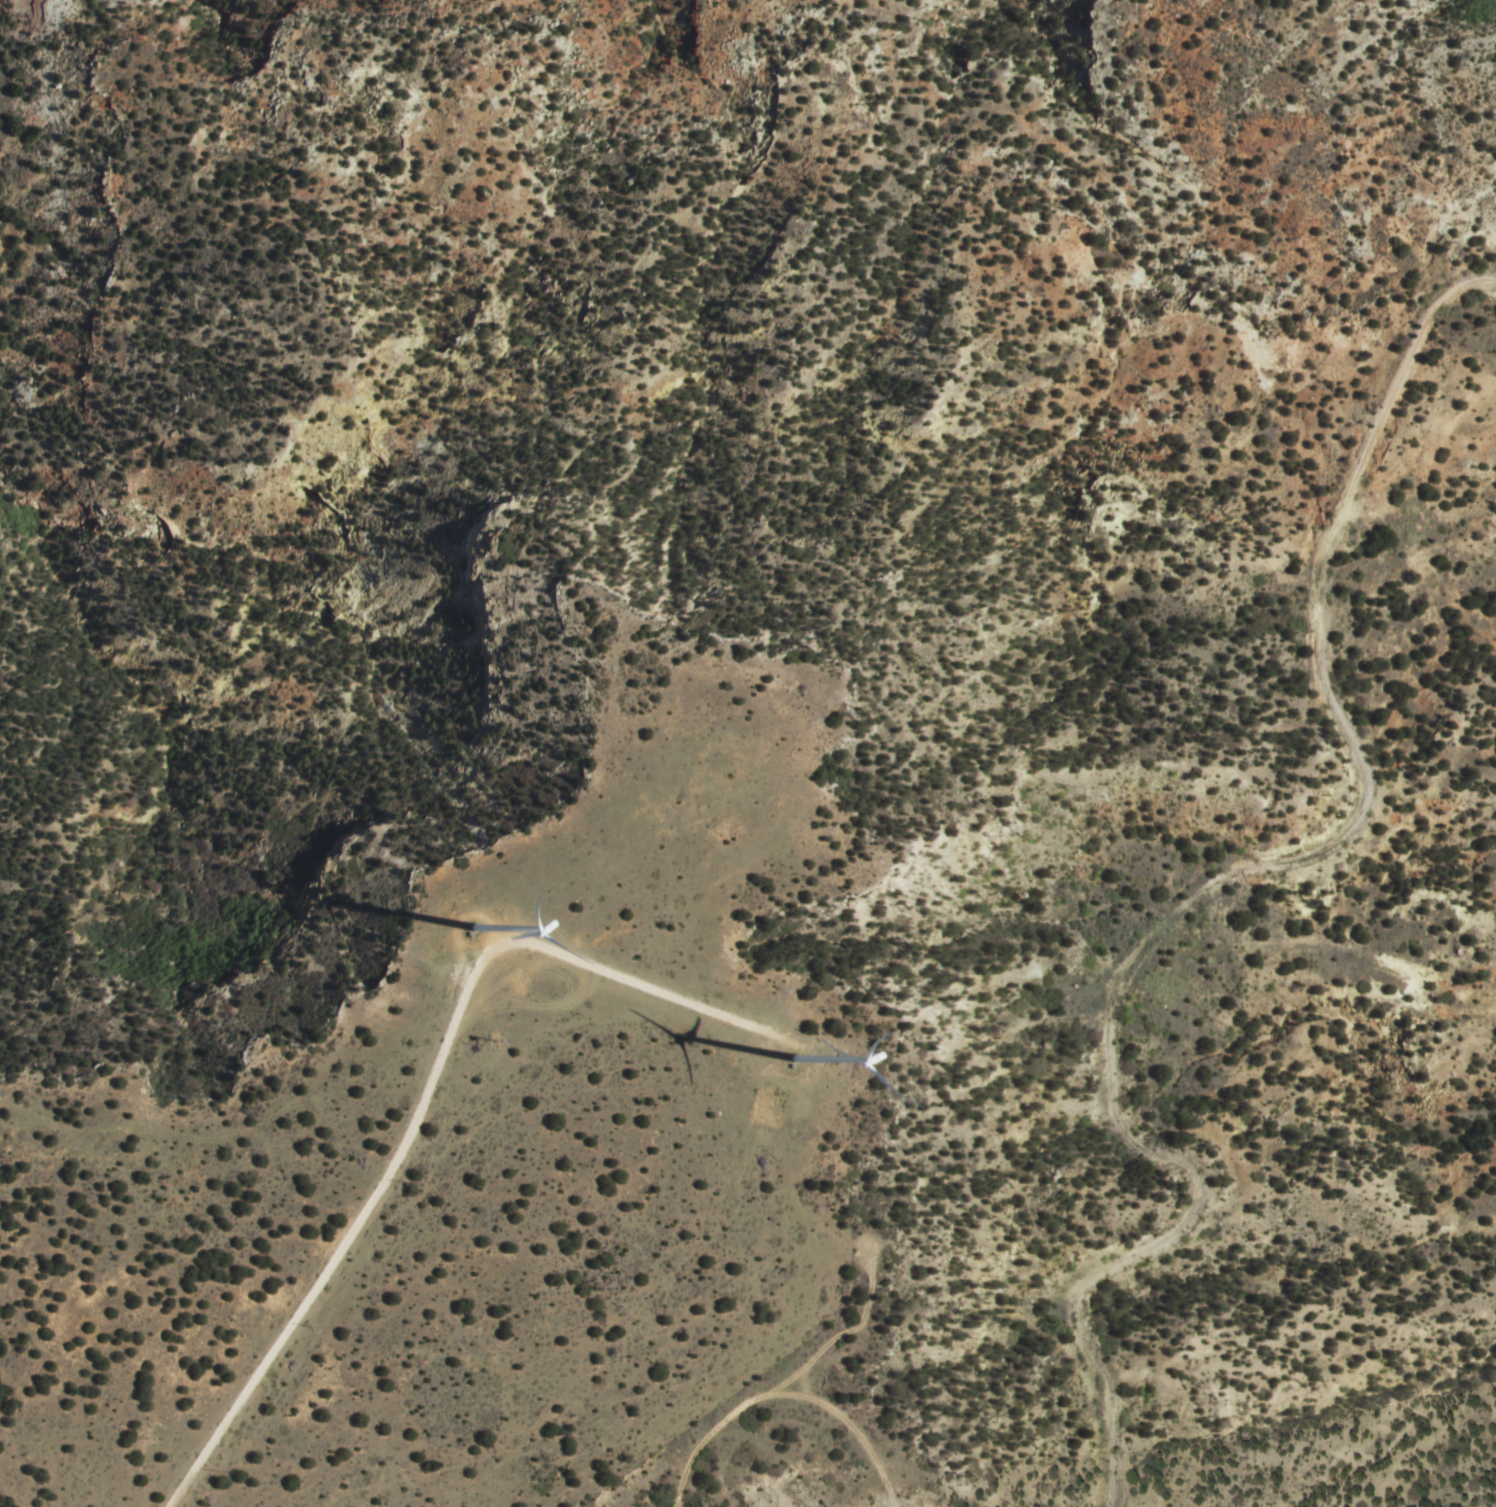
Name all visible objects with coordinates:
road: (1215, 886)
wind turbine: (476, 929)
wind turbine: (797, 1062)
road: (427, 1098)

